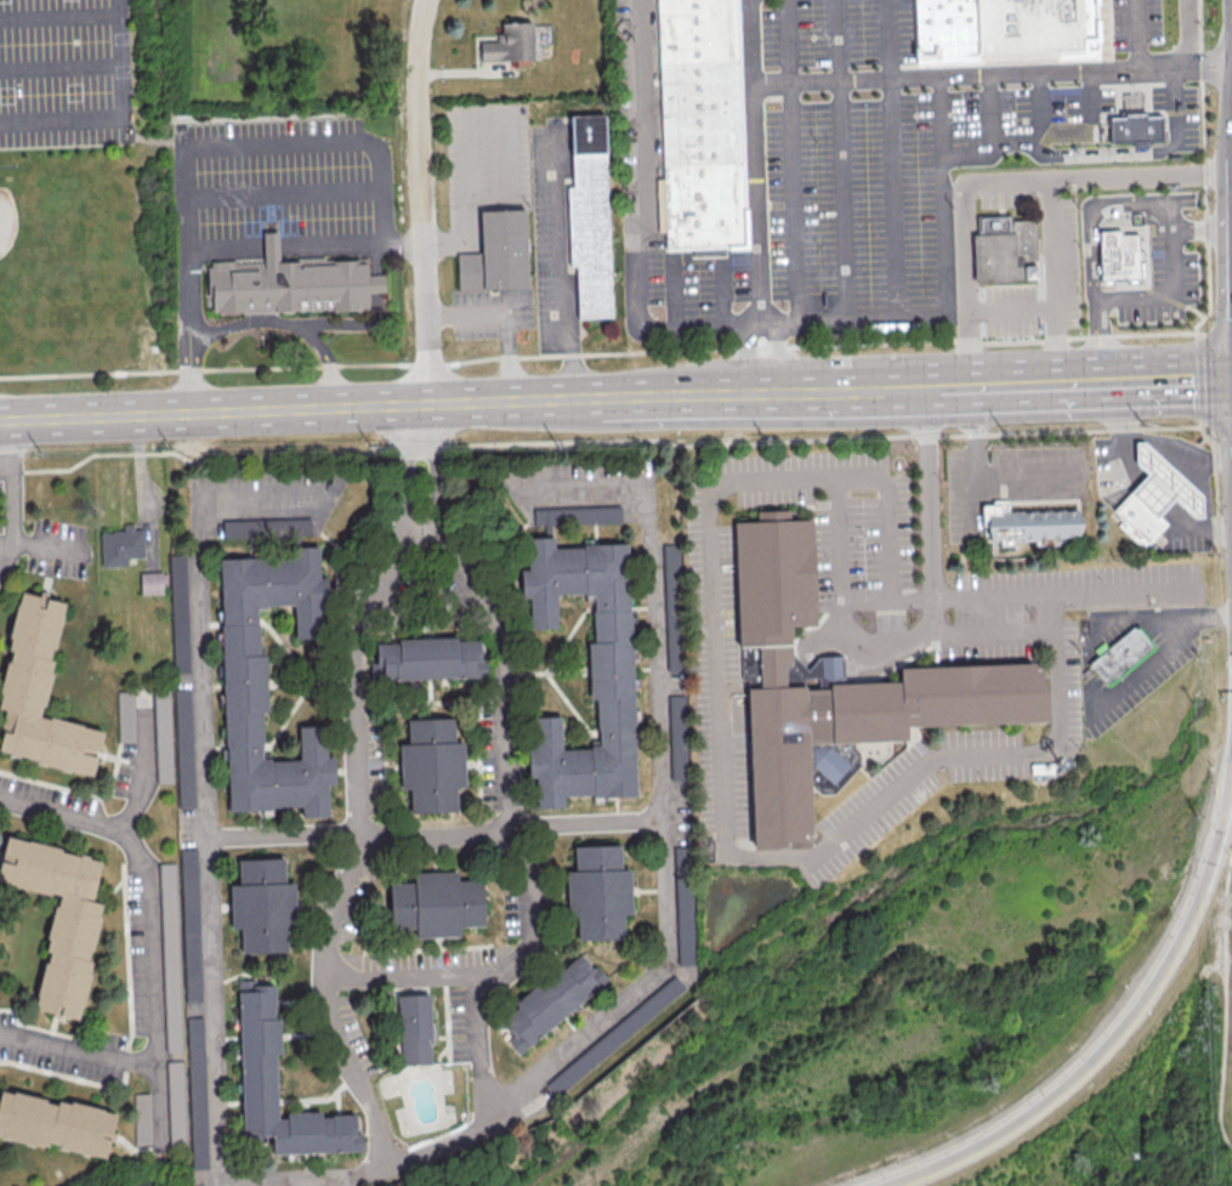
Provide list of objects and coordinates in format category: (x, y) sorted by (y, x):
road: (58, 18)
parking lot: (1132, 23)
building: (1005, 28)
road: (1186, 28)
road: (1136, 35)
building: (509, 42)
road: (59, 66)
road: (994, 75)
road: (1200, 81)
parking lot: (629, 84)
road: (657, 89)
parking lot: (1112, 97)
road: (1061, 113)
road: (1022, 114)
road: (973, 117)
road: (120, 120)
building: (699, 123)
building: (1135, 129)
road: (147, 140)
road: (269, 140)
road: (1158, 149)
road: (1001, 154)
road: (839, 160)
road: (890, 160)
road: (755, 161)
road: (793, 161)
road: (1204, 169)
parking lot: (861, 176)
road: (995, 178)
road: (284, 193)
road: (470, 199)
road: (943, 199)
road: (422, 202)
road: (1088, 214)
road: (954, 217)
building: (591, 219)
road: (641, 222)
road: (1199, 231)
road: (351, 245)
road: (272, 249)
building: (1006, 251)
parking lot: (1062, 251)
park: (45, 254)
building: (499, 255)
building: (1122, 259)
road: (558, 267)
road: (1055, 279)
parking lot: (1159, 279)
road: (1168, 283)
building: (293, 286)
road: (674, 293)
road: (716, 295)
road: (189, 299)
road: (1186, 305)
road: (1012, 311)
road: (959, 319)
road: (503, 322)
road: (853, 322)
road: (288, 324)
road: (759, 325)
road: (1214, 331)
road: (1096, 340)
road: (597, 354)
road: (773, 364)
road: (749, 367)
road: (1164, 378)
road: (1199, 379)
road: (1017, 384)
road: (912, 387)
road: (853, 390)
road: (712, 395)
road: (301, 410)
road: (1215, 425)
road: (595, 441)
road: (1153, 442)
road: (421, 461)
road: (981, 477)
road: (1215, 477)
building: (1164, 484)
road: (11, 486)
road: (1205, 509)
building: (596, 513)
building: (547, 515)
building: (1141, 521)
building: (1031, 526)
road: (0, 543)
road: (0, 545)
building: (120, 545)
road: (42, 549)
building: (152, 583)
road: (1119, 590)
road: (840, 602)
road: (865, 602)
building: (178, 612)
road: (1134, 617)
road: (980, 631)
road: (1157, 652)
building: (1122, 654)
building: (427, 658)
building: (609, 669)
building: (243, 674)
building: (835, 681)
building: (39, 692)
building: (125, 715)
building: (676, 717)
building: (163, 736)
building: (183, 748)
road: (507, 751)
road: (143, 761)
building: (431, 764)
road: (84, 819)
road: (663, 823)
road: (435, 838)
road: (358, 841)
road: (783, 858)
road: (208, 859)
building: (597, 891)
building: (436, 903)
building: (262, 906)
building: (58, 917)
building: (685, 921)
building: (189, 924)
building: (170, 957)
road: (402, 974)
building: (550, 1000)
road: (1224, 1006)
road: (155, 1010)
road: (1126, 1021)
building: (416, 1029)
building: (614, 1034)
road: (481, 1048)
road: (78, 1052)
building: (257, 1083)
building: (197, 1091)
building: (176, 1102)
building: (141, 1118)
building: (55, 1123)

